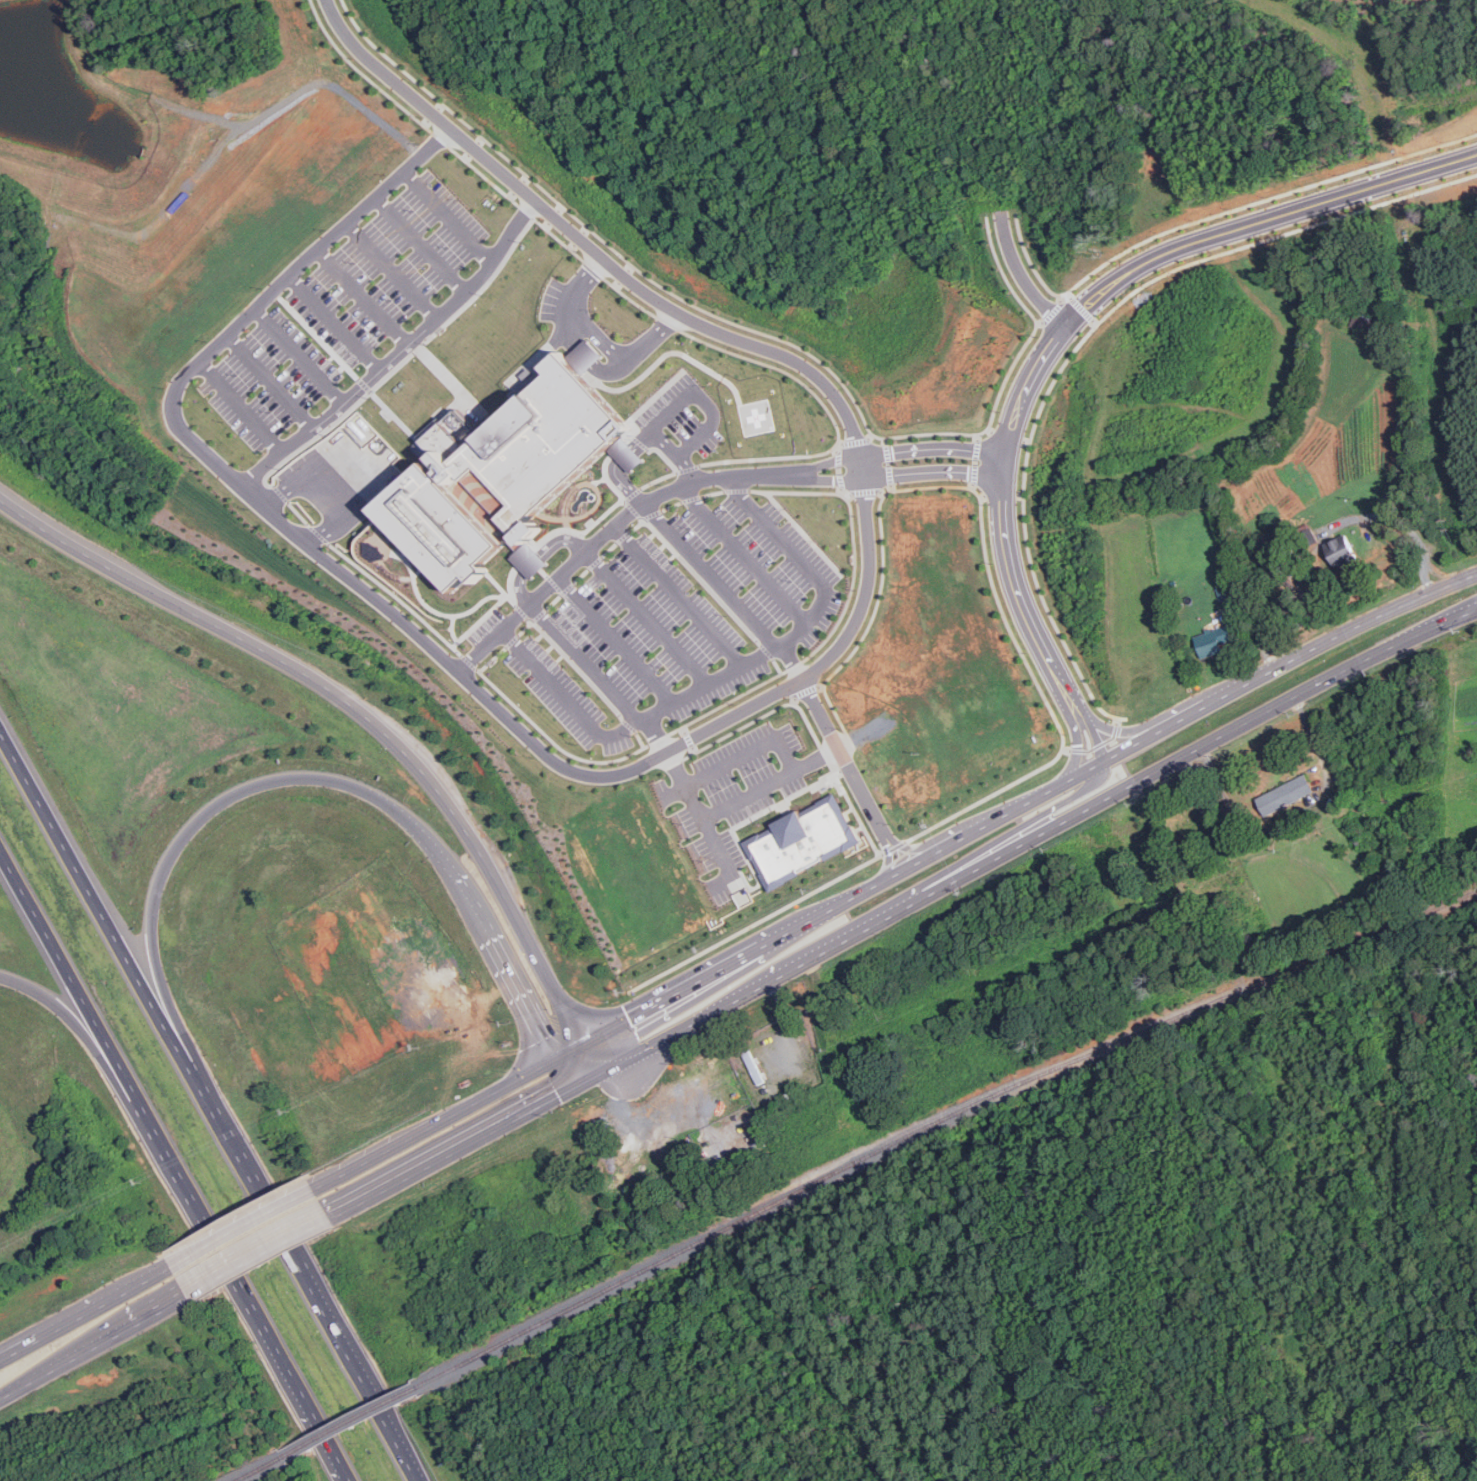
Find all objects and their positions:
road: (431, 143)
road: (447, 216)
road: (417, 245)
road: (391, 269)
road: (1024, 277)
road: (362, 296)
road: (335, 322)
road: (1063, 336)
road: (598, 338)
road: (400, 350)
road: (300, 356)
road: (272, 381)
road: (678, 403)
road: (243, 405)
helipad: (754, 417)
road: (614, 465)
building: (500, 474)
road: (697, 480)
road: (321, 494)
road: (1400, 522)
building: (1340, 552)
road: (742, 555)
road: (539, 556)
road: (725, 590)
road: (679, 596)
road: (647, 618)
road: (615, 641)
building: (1213, 641)
road: (1289, 662)
road: (725, 674)
road: (599, 677)
road: (353, 708)
road: (747, 753)
road: (1201, 772)
road: (852, 775)
building: (1286, 795)
road: (737, 801)
road: (1309, 816)
road: (182, 839)
road: (1030, 840)
building: (803, 843)
road: (726, 858)
road: (946, 873)
road: (843, 902)
road: (475, 908)
road: (114, 939)
road: (523, 1001)
road: (92, 1018)
traffic signals: (581, 1046)
road: (568, 1053)
traffic signals: (555, 1060)
road: (585, 1063)
road: (105, 1067)
road: (572, 1070)
traffic signals: (589, 1080)
road: (435, 1125)
railway: (940, 1126)
road: (459, 1150)
road: (243, 1229)
road: (259, 1258)
road: (245, 1294)
road: (160, 1312)
road: (322, 1313)
road: (86, 1314)
road: (81, 1355)
road: (15, 1391)
railway: (348, 1422)
road: (327, 1441)
railway: (258, 1468)

